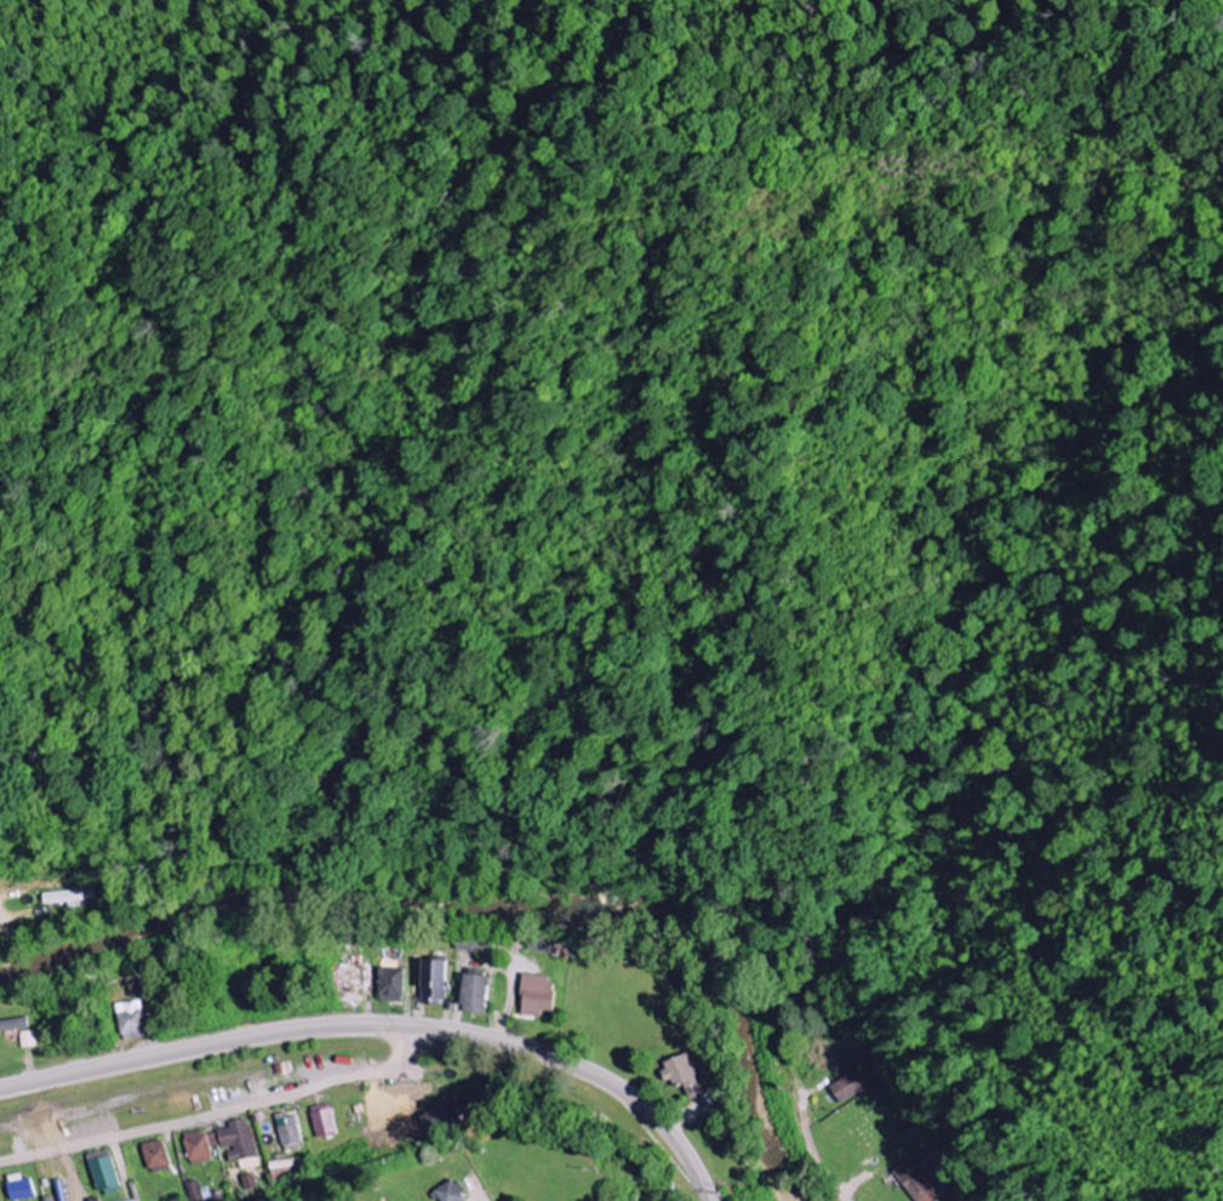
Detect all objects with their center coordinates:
building: (70, 897)
road: (4, 930)
building: (474, 942)
building: (434, 982)
building: (390, 984)
building: (474, 994)
building: (535, 995)
building: (131, 1020)
road: (385, 1024)
building: (13, 1025)
building: (685, 1074)
building: (852, 1083)
road: (215, 1111)
building: (390, 1113)
building: (447, 1114)
building: (318, 1121)
building: (284, 1131)
building: (229, 1140)
building: (192, 1146)
building: (149, 1156)
road: (817, 1159)
building: (284, 1168)
building: (97, 1171)
building: (916, 1183)
building: (13, 1188)
building: (448, 1191)

